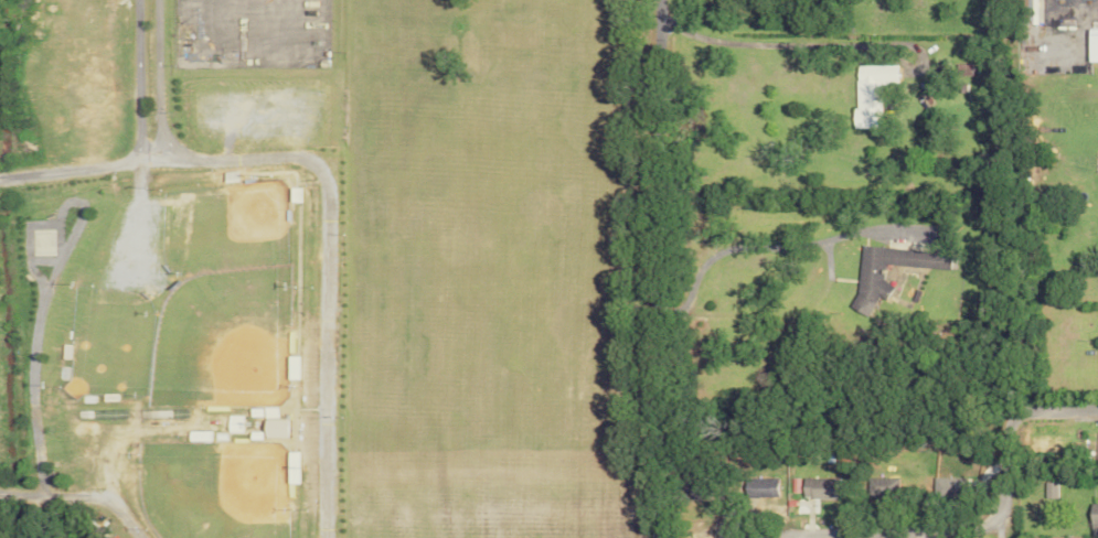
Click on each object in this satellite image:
building: (1025, 3)
road: (782, 43)
building: (866, 94)
road: (74, 169)
road: (322, 187)
road: (771, 244)
road: (654, 269)
building: (867, 276)
park: (188, 300)
building: (233, 423)
building: (273, 429)
building: (196, 435)
building: (1097, 449)
park: (218, 486)
building: (883, 486)
building: (761, 487)
building: (818, 488)
building: (1049, 489)
road: (85, 493)
building: (1092, 519)
road: (949, 524)

